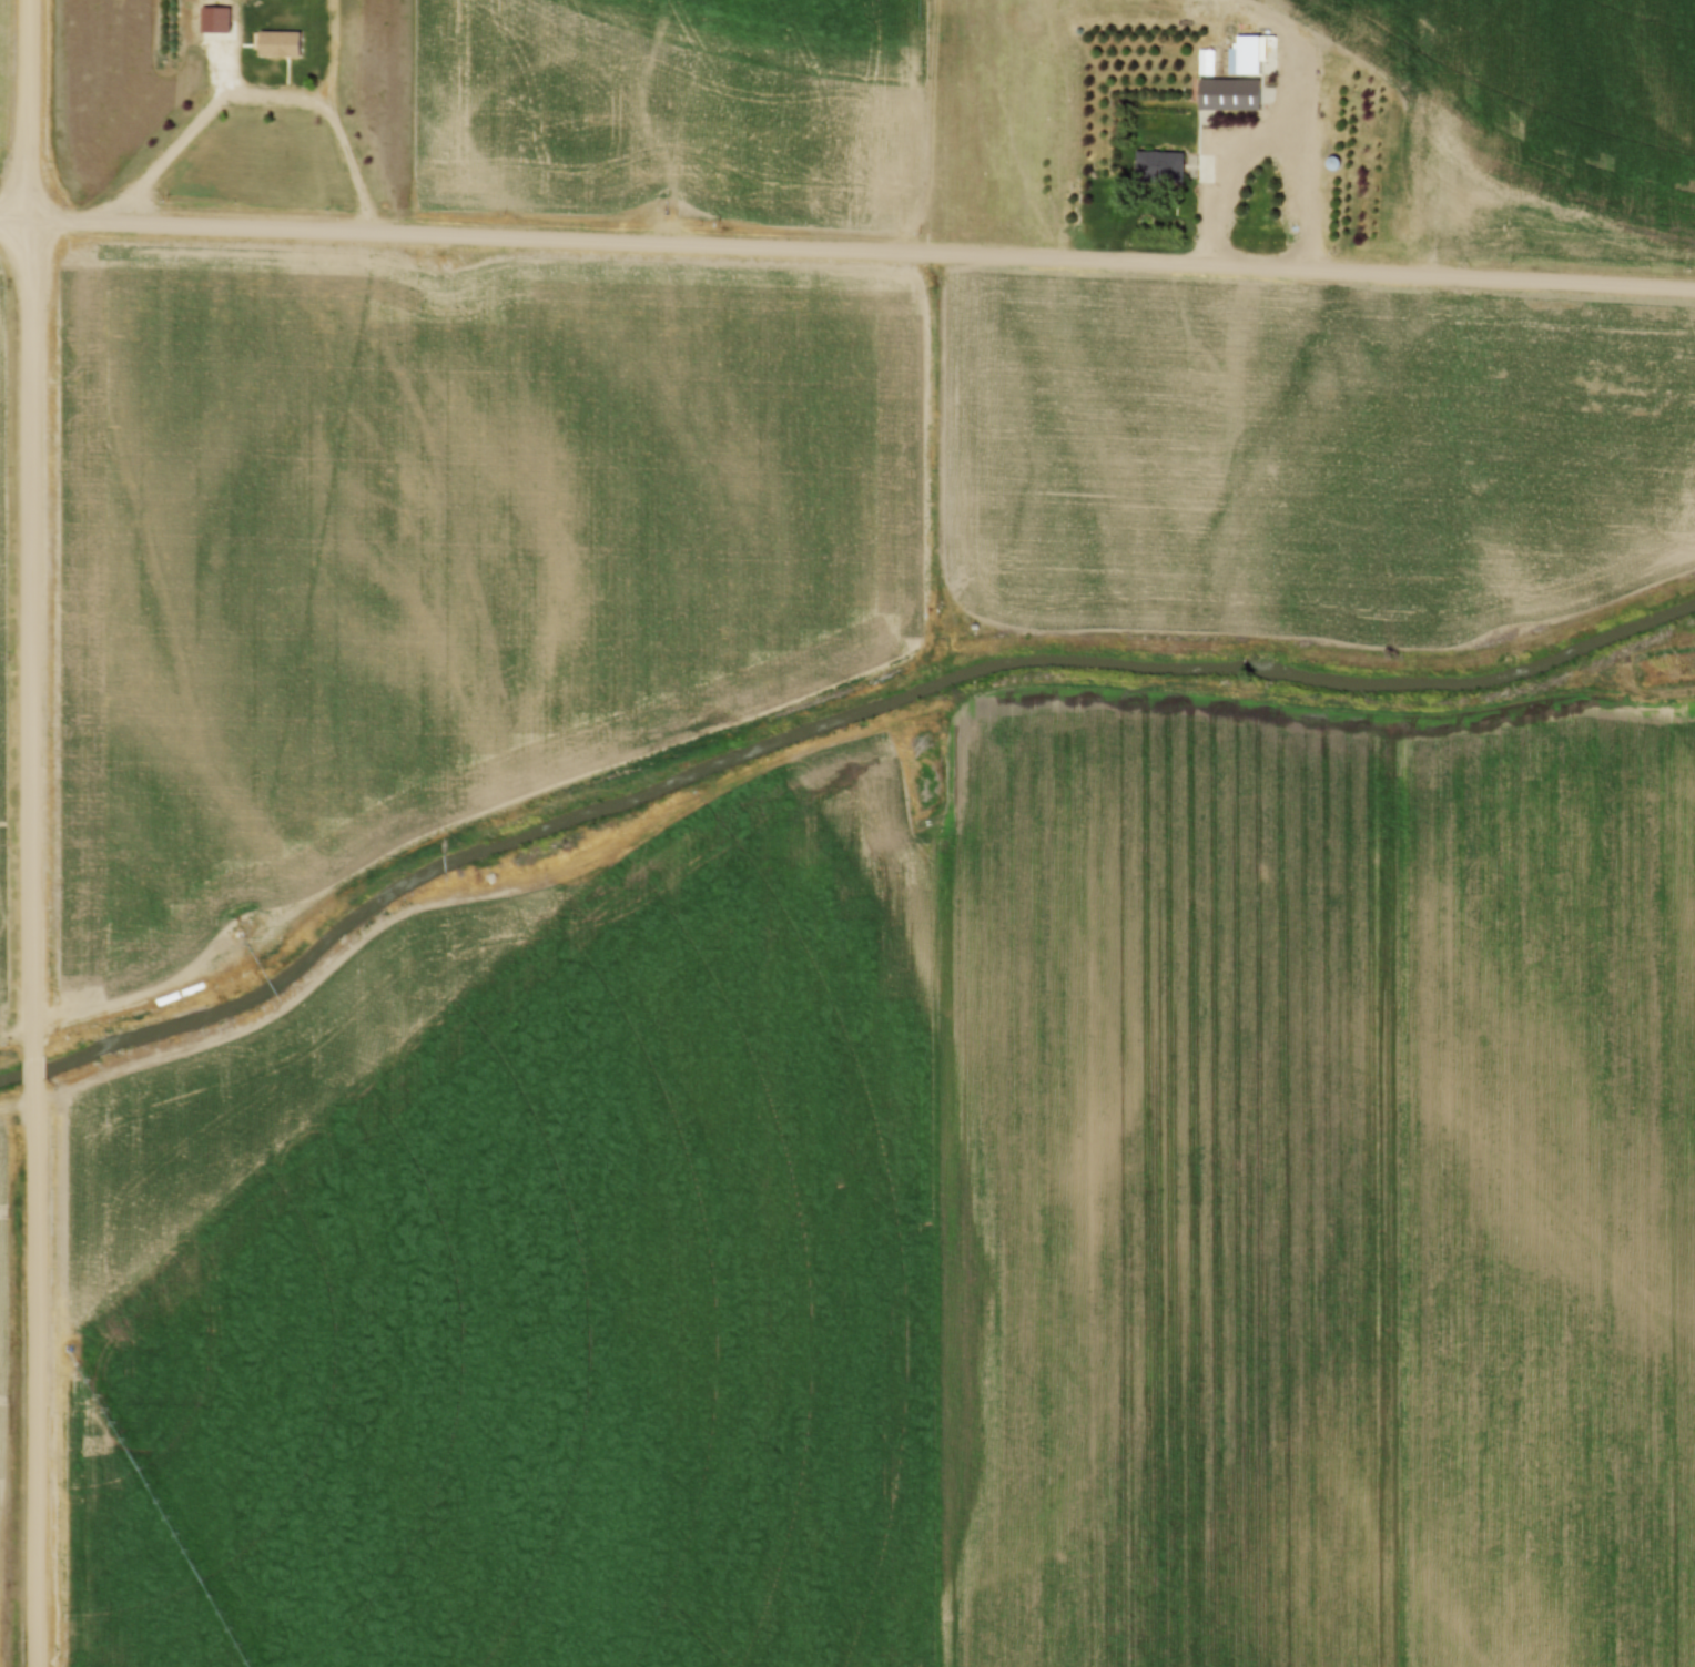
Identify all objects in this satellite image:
building: (278, 41)
road: (227, 52)
building: (1248, 52)
crop: (3, 70)
building: (1228, 93)
crop: (1547, 112)
crop: (672, 113)
road: (332, 116)
road: (197, 121)
road: (1272, 130)
building: (1161, 161)
road: (13, 220)
road: (861, 248)
road: (29, 529)
crop: (427, 545)
crop: (1, 602)
road: (628, 753)
road: (494, 890)
road: (32, 1070)
crop: (944, 1244)
crop: (4, 1323)
road: (32, 1374)

